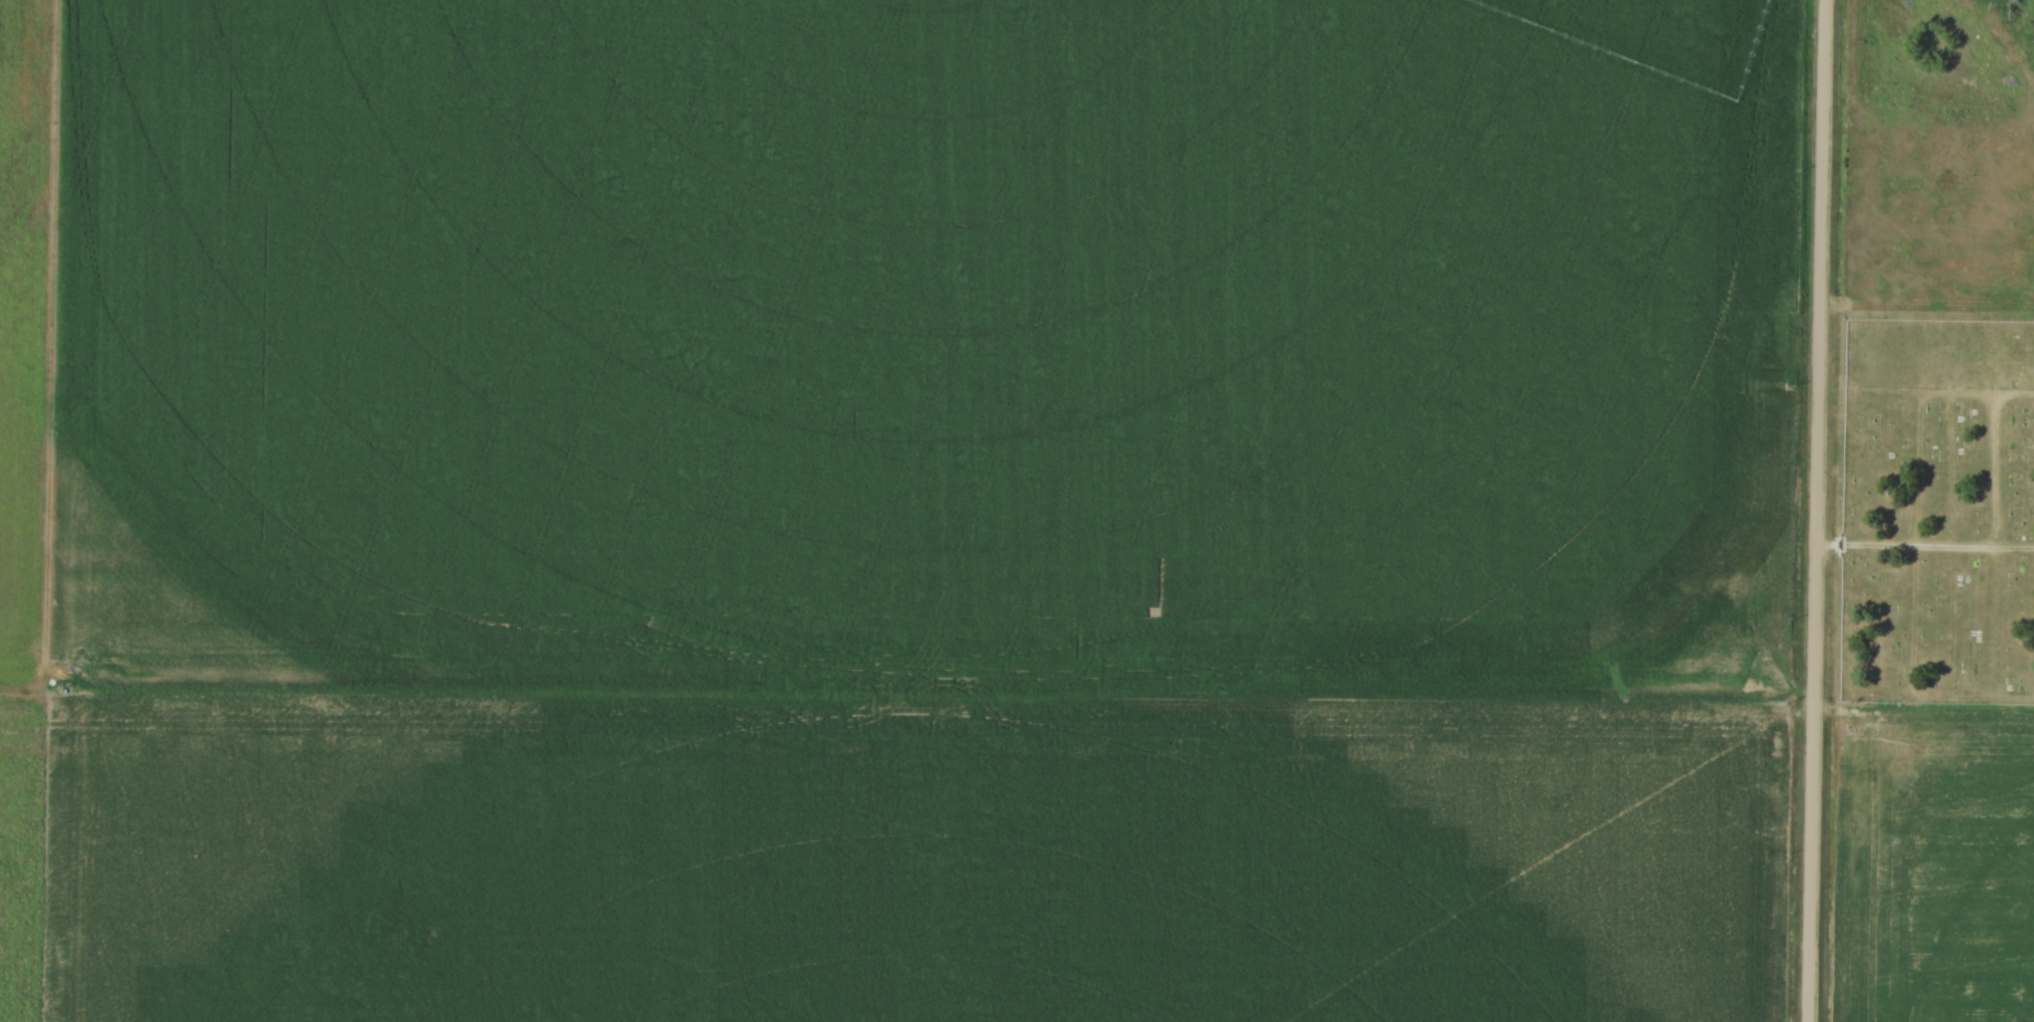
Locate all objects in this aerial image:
road: (1817, 510)
road: (1925, 544)

